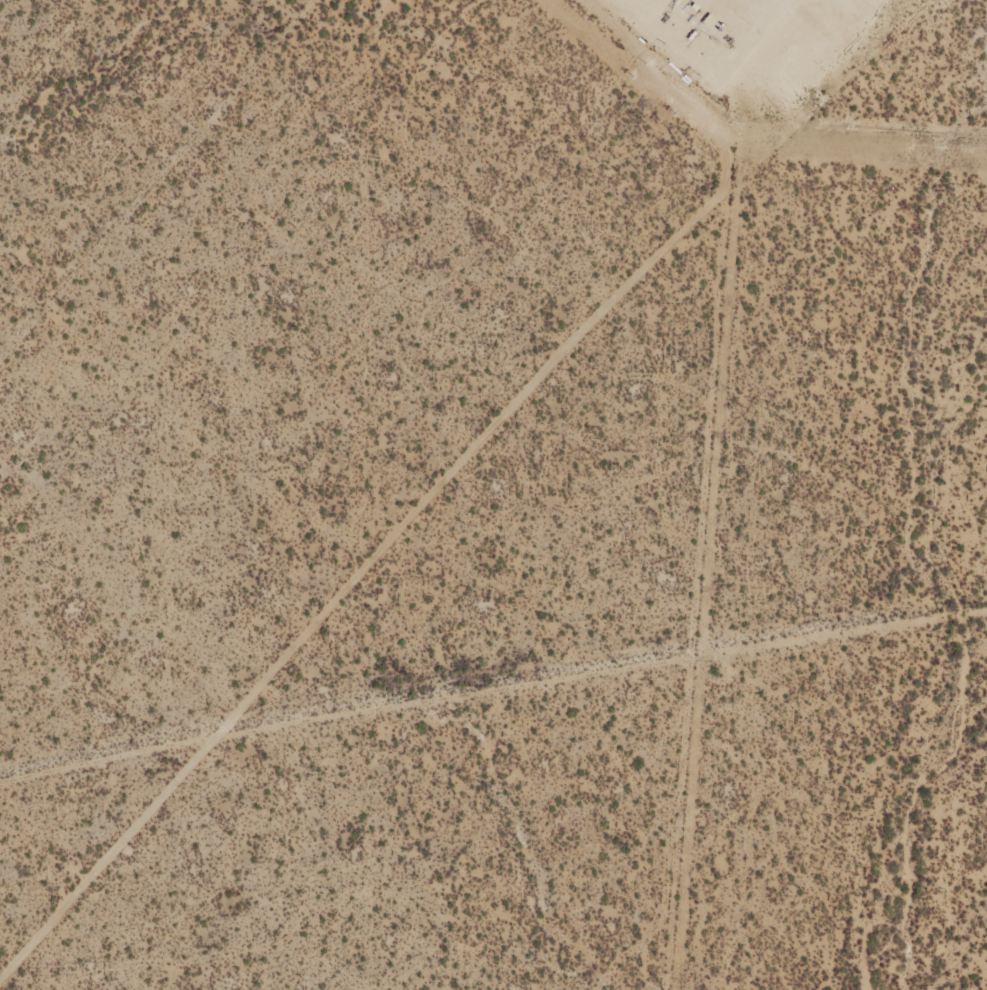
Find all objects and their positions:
road: (138, 154)

